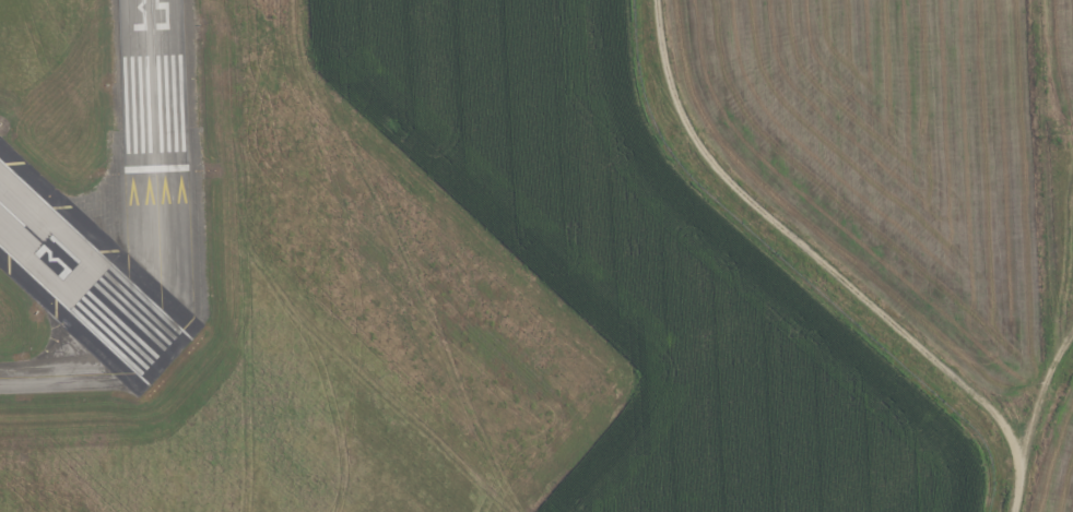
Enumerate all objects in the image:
airport runway: (153, 84)
airport taxiway: (158, 238)
road: (825, 266)
airport runway: (80, 278)
airport: (410, 279)
airport taxiway: (131, 341)
airport taxiway: (50, 374)
road: (1038, 398)

